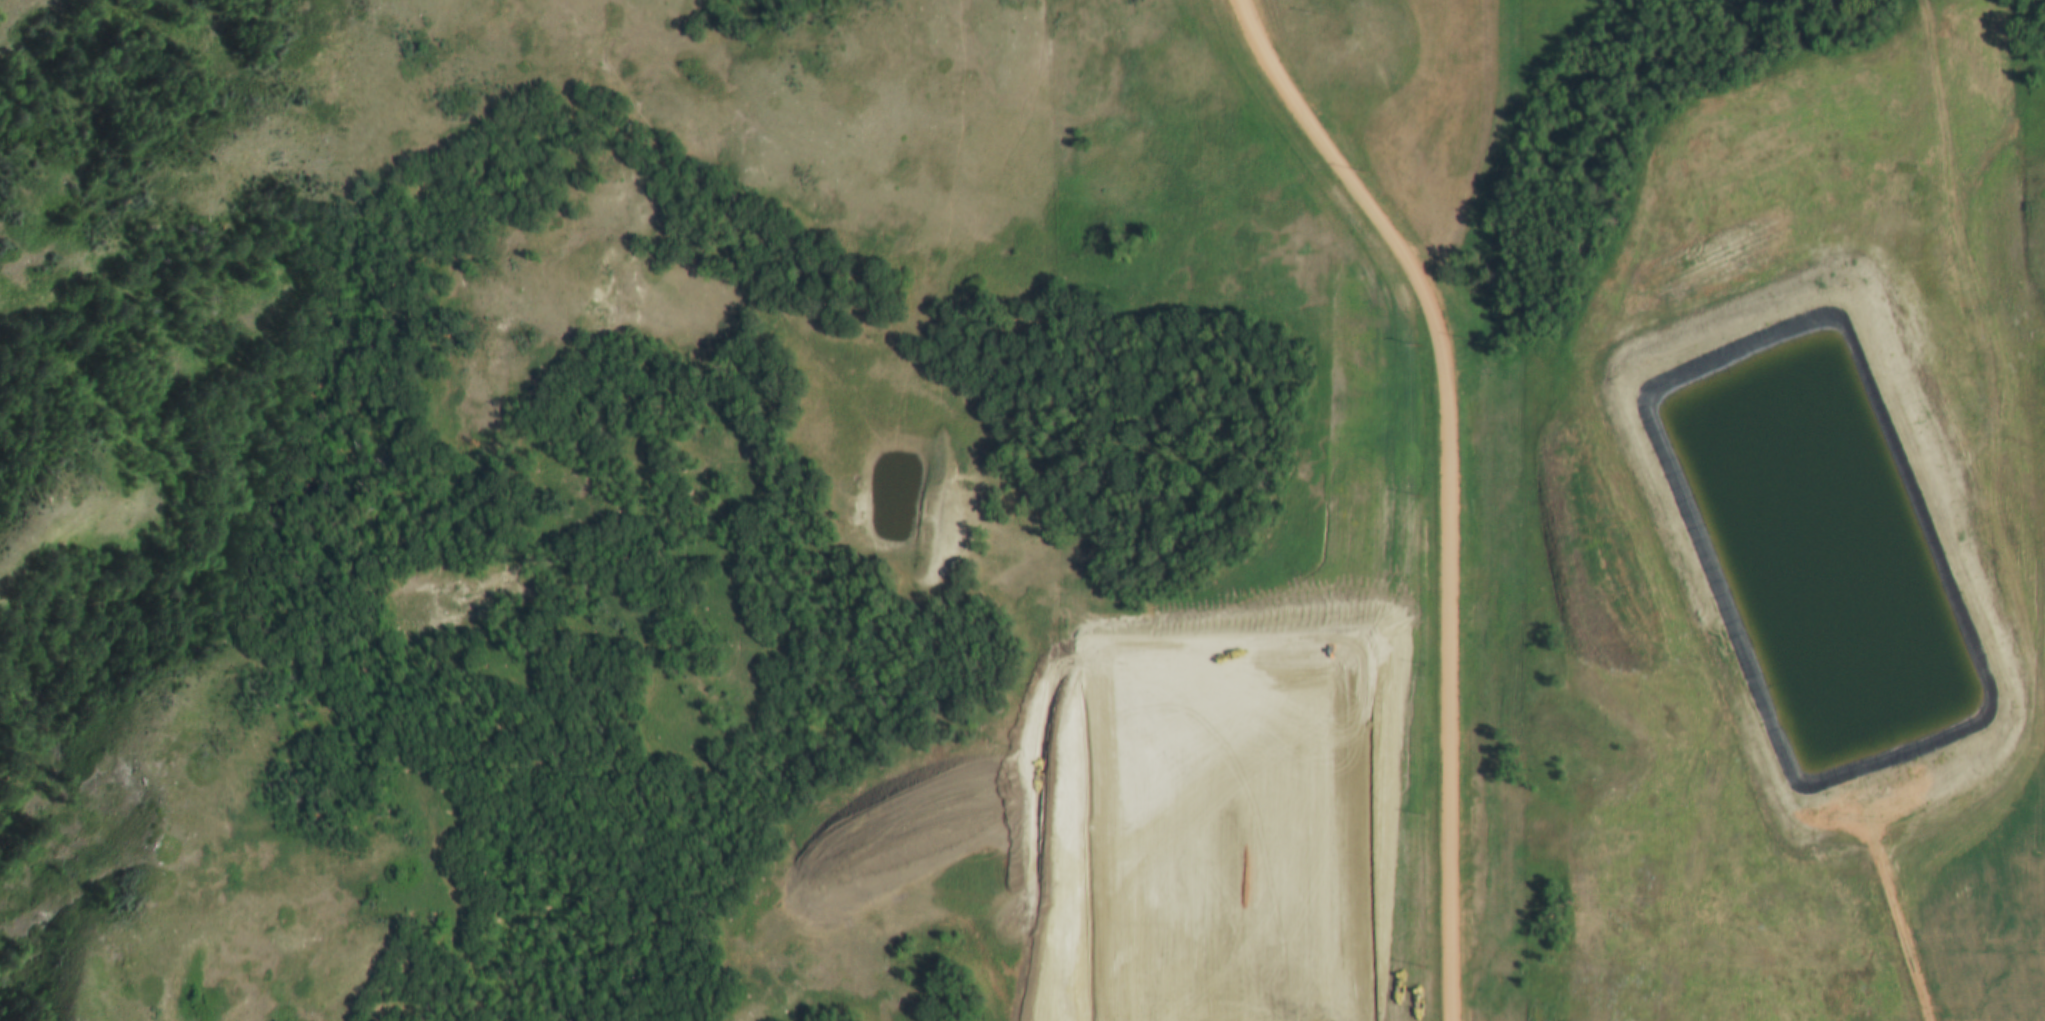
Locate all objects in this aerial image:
road: (1442, 482)

